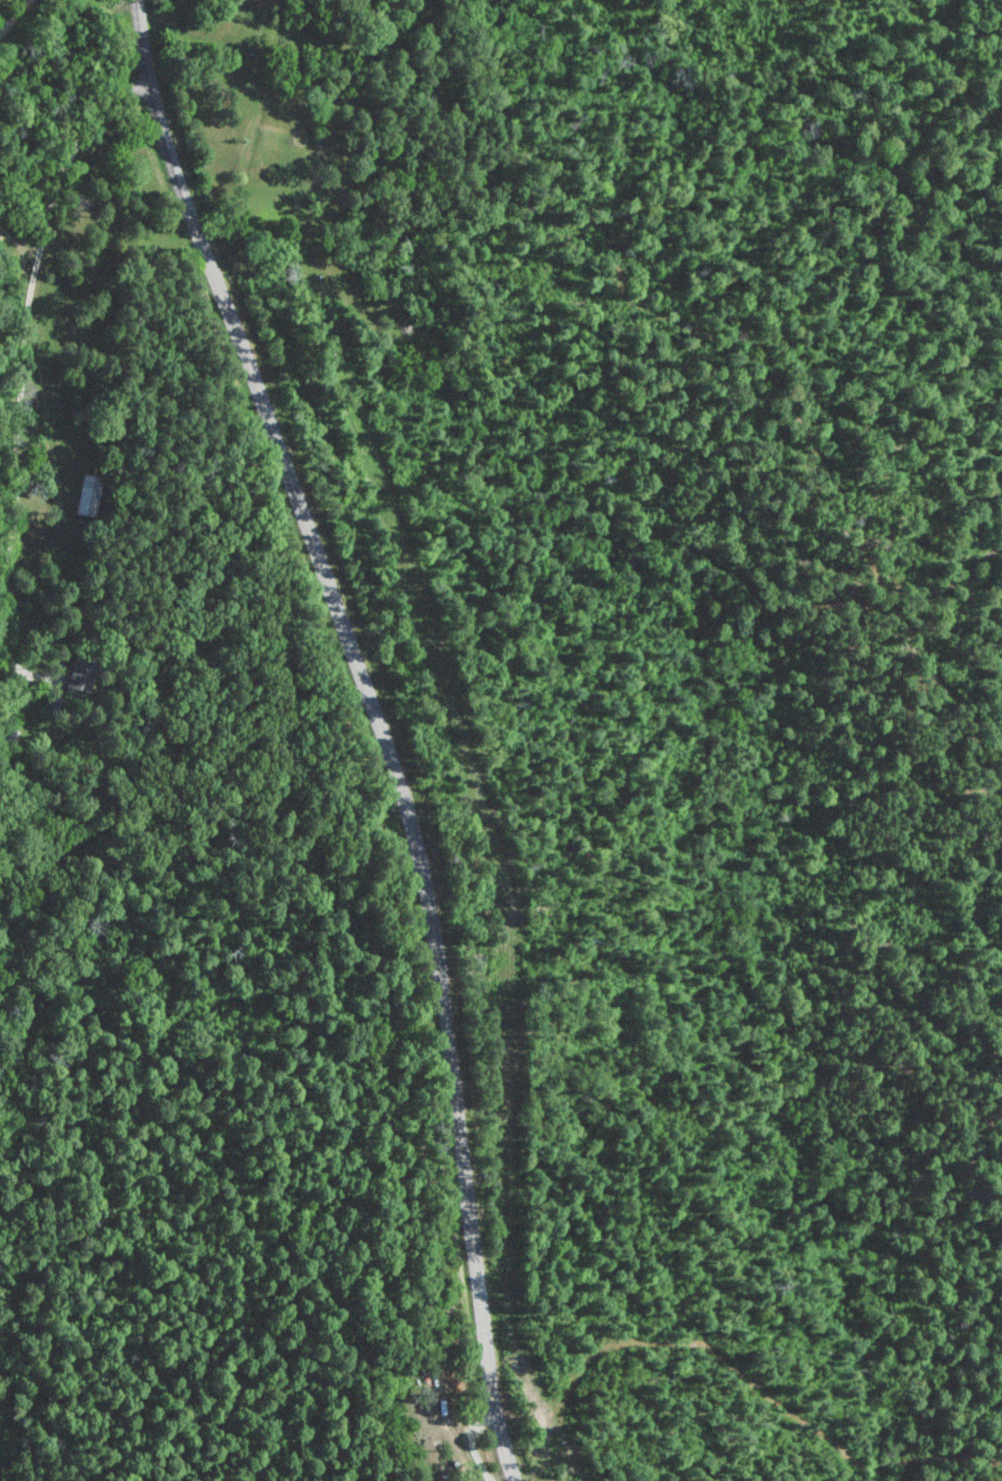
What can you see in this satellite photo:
road: (18, 24)
road: (22, 301)
road: (10, 671)
road: (374, 727)

